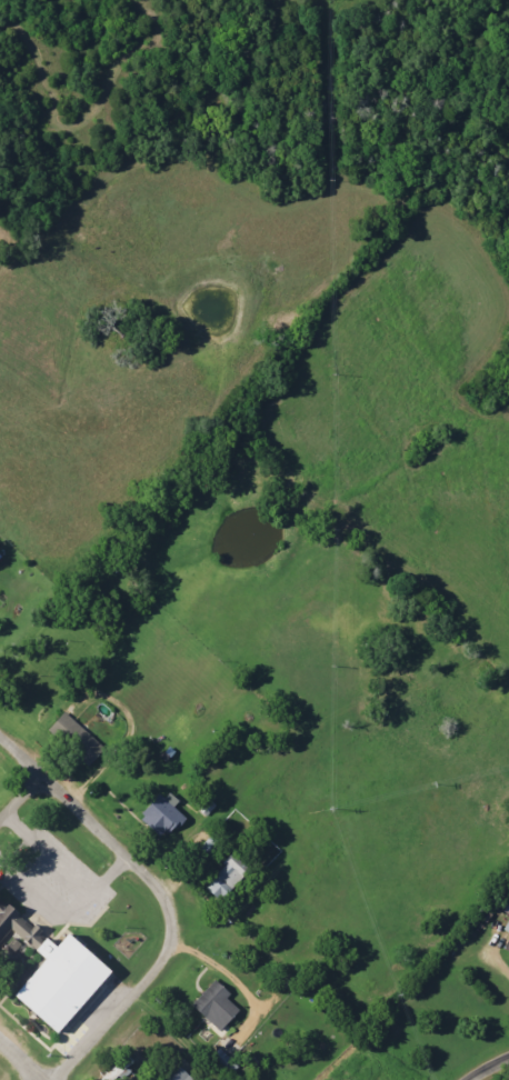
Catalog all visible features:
building: (77, 741)
road: (21, 801)
building: (158, 816)
road: (97, 826)
building: (221, 881)
building: (8, 920)
building: (506, 928)
building: (507, 948)
road: (500, 953)
building: (58, 983)
building: (212, 1006)
road: (127, 1007)
road: (23, 1059)
road: (492, 1070)
building: (177, 1076)

